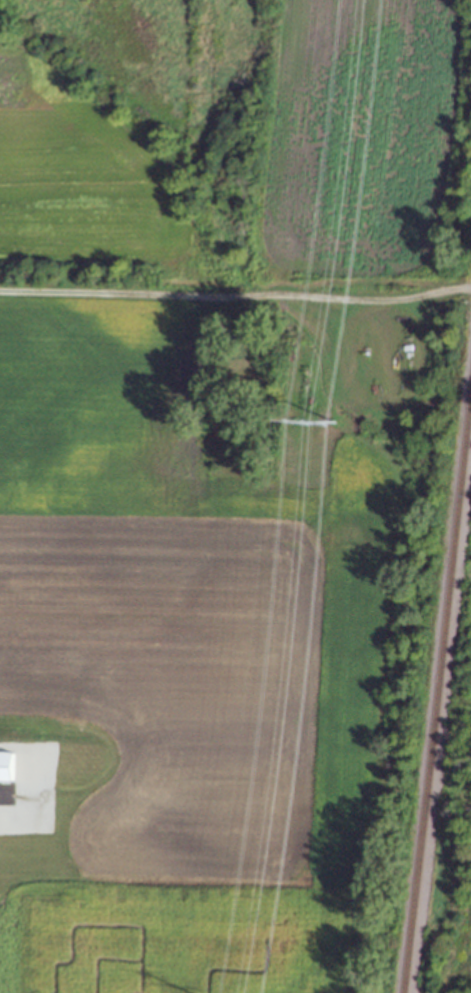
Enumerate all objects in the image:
road: (225, 297)
power tower: (331, 423)
railway: (437, 693)
building: (5, 767)

